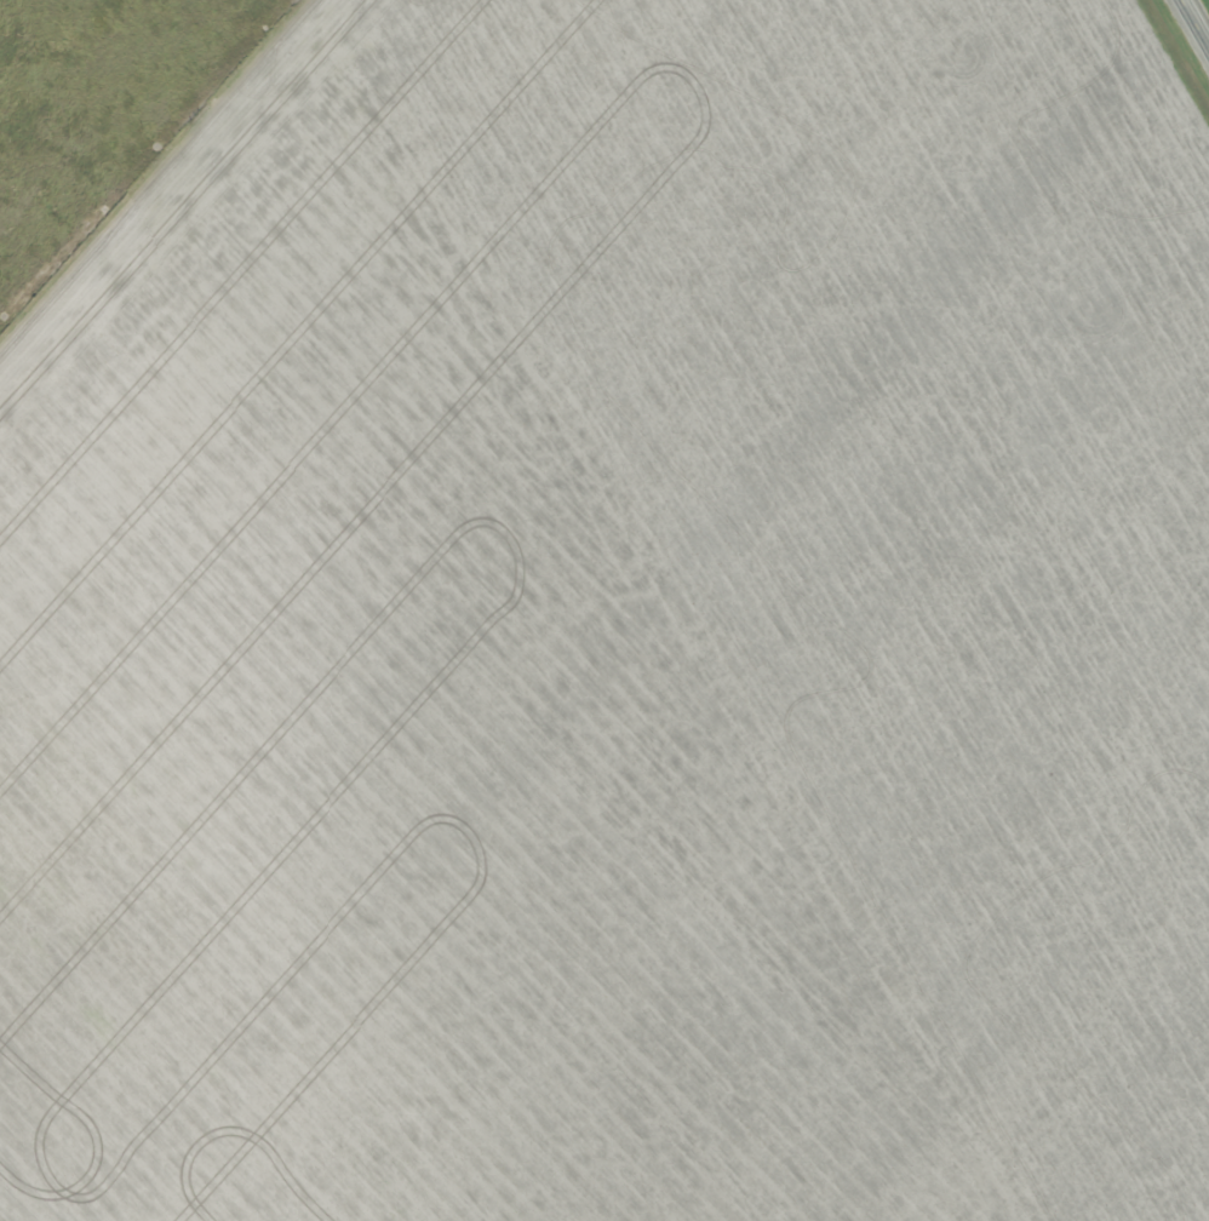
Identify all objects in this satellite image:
road: (1194, 24)

